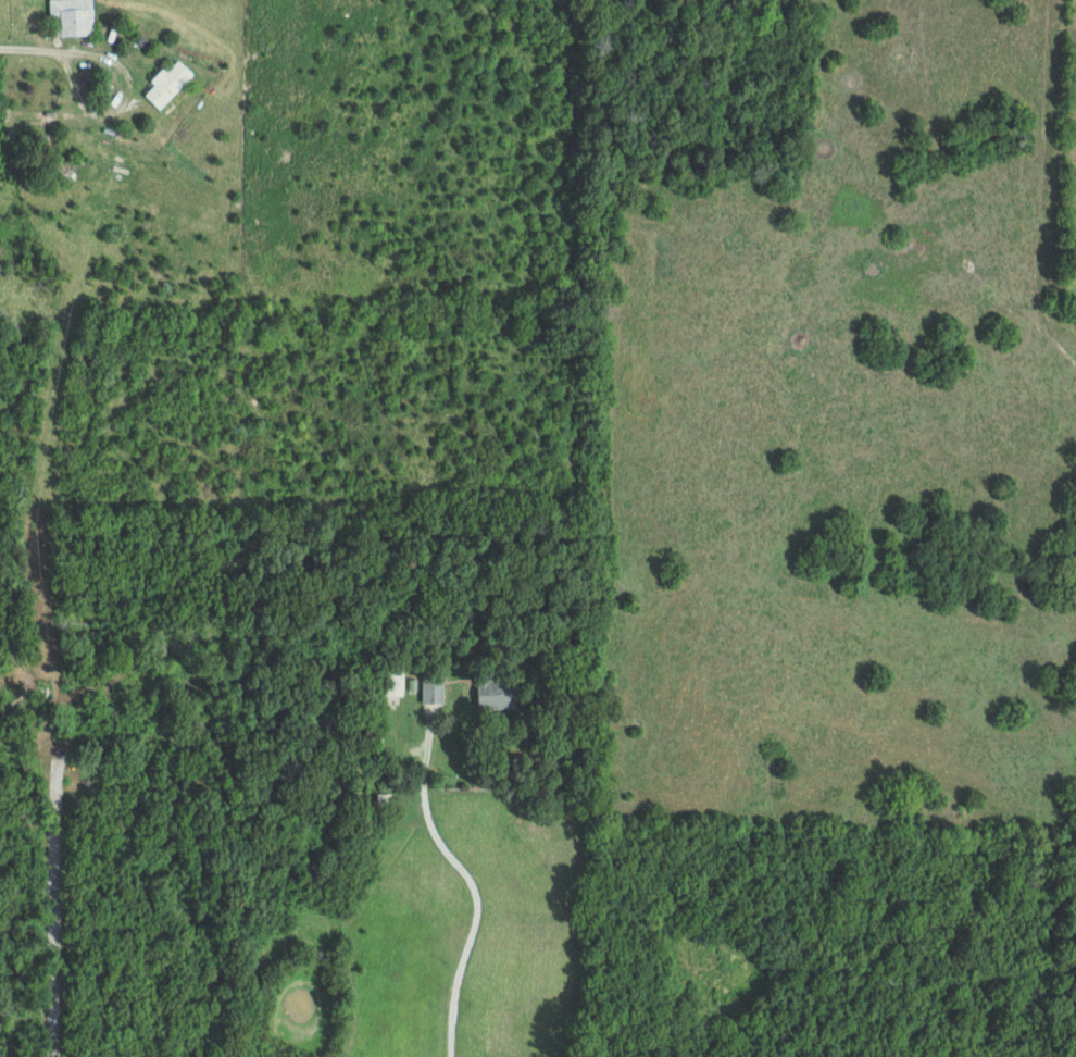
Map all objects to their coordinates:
building: (72, 17)
road: (30, 48)
building: (170, 84)
road: (121, 101)
building: (397, 683)
building: (435, 691)
building: (498, 694)
road: (60, 882)
road: (471, 906)

